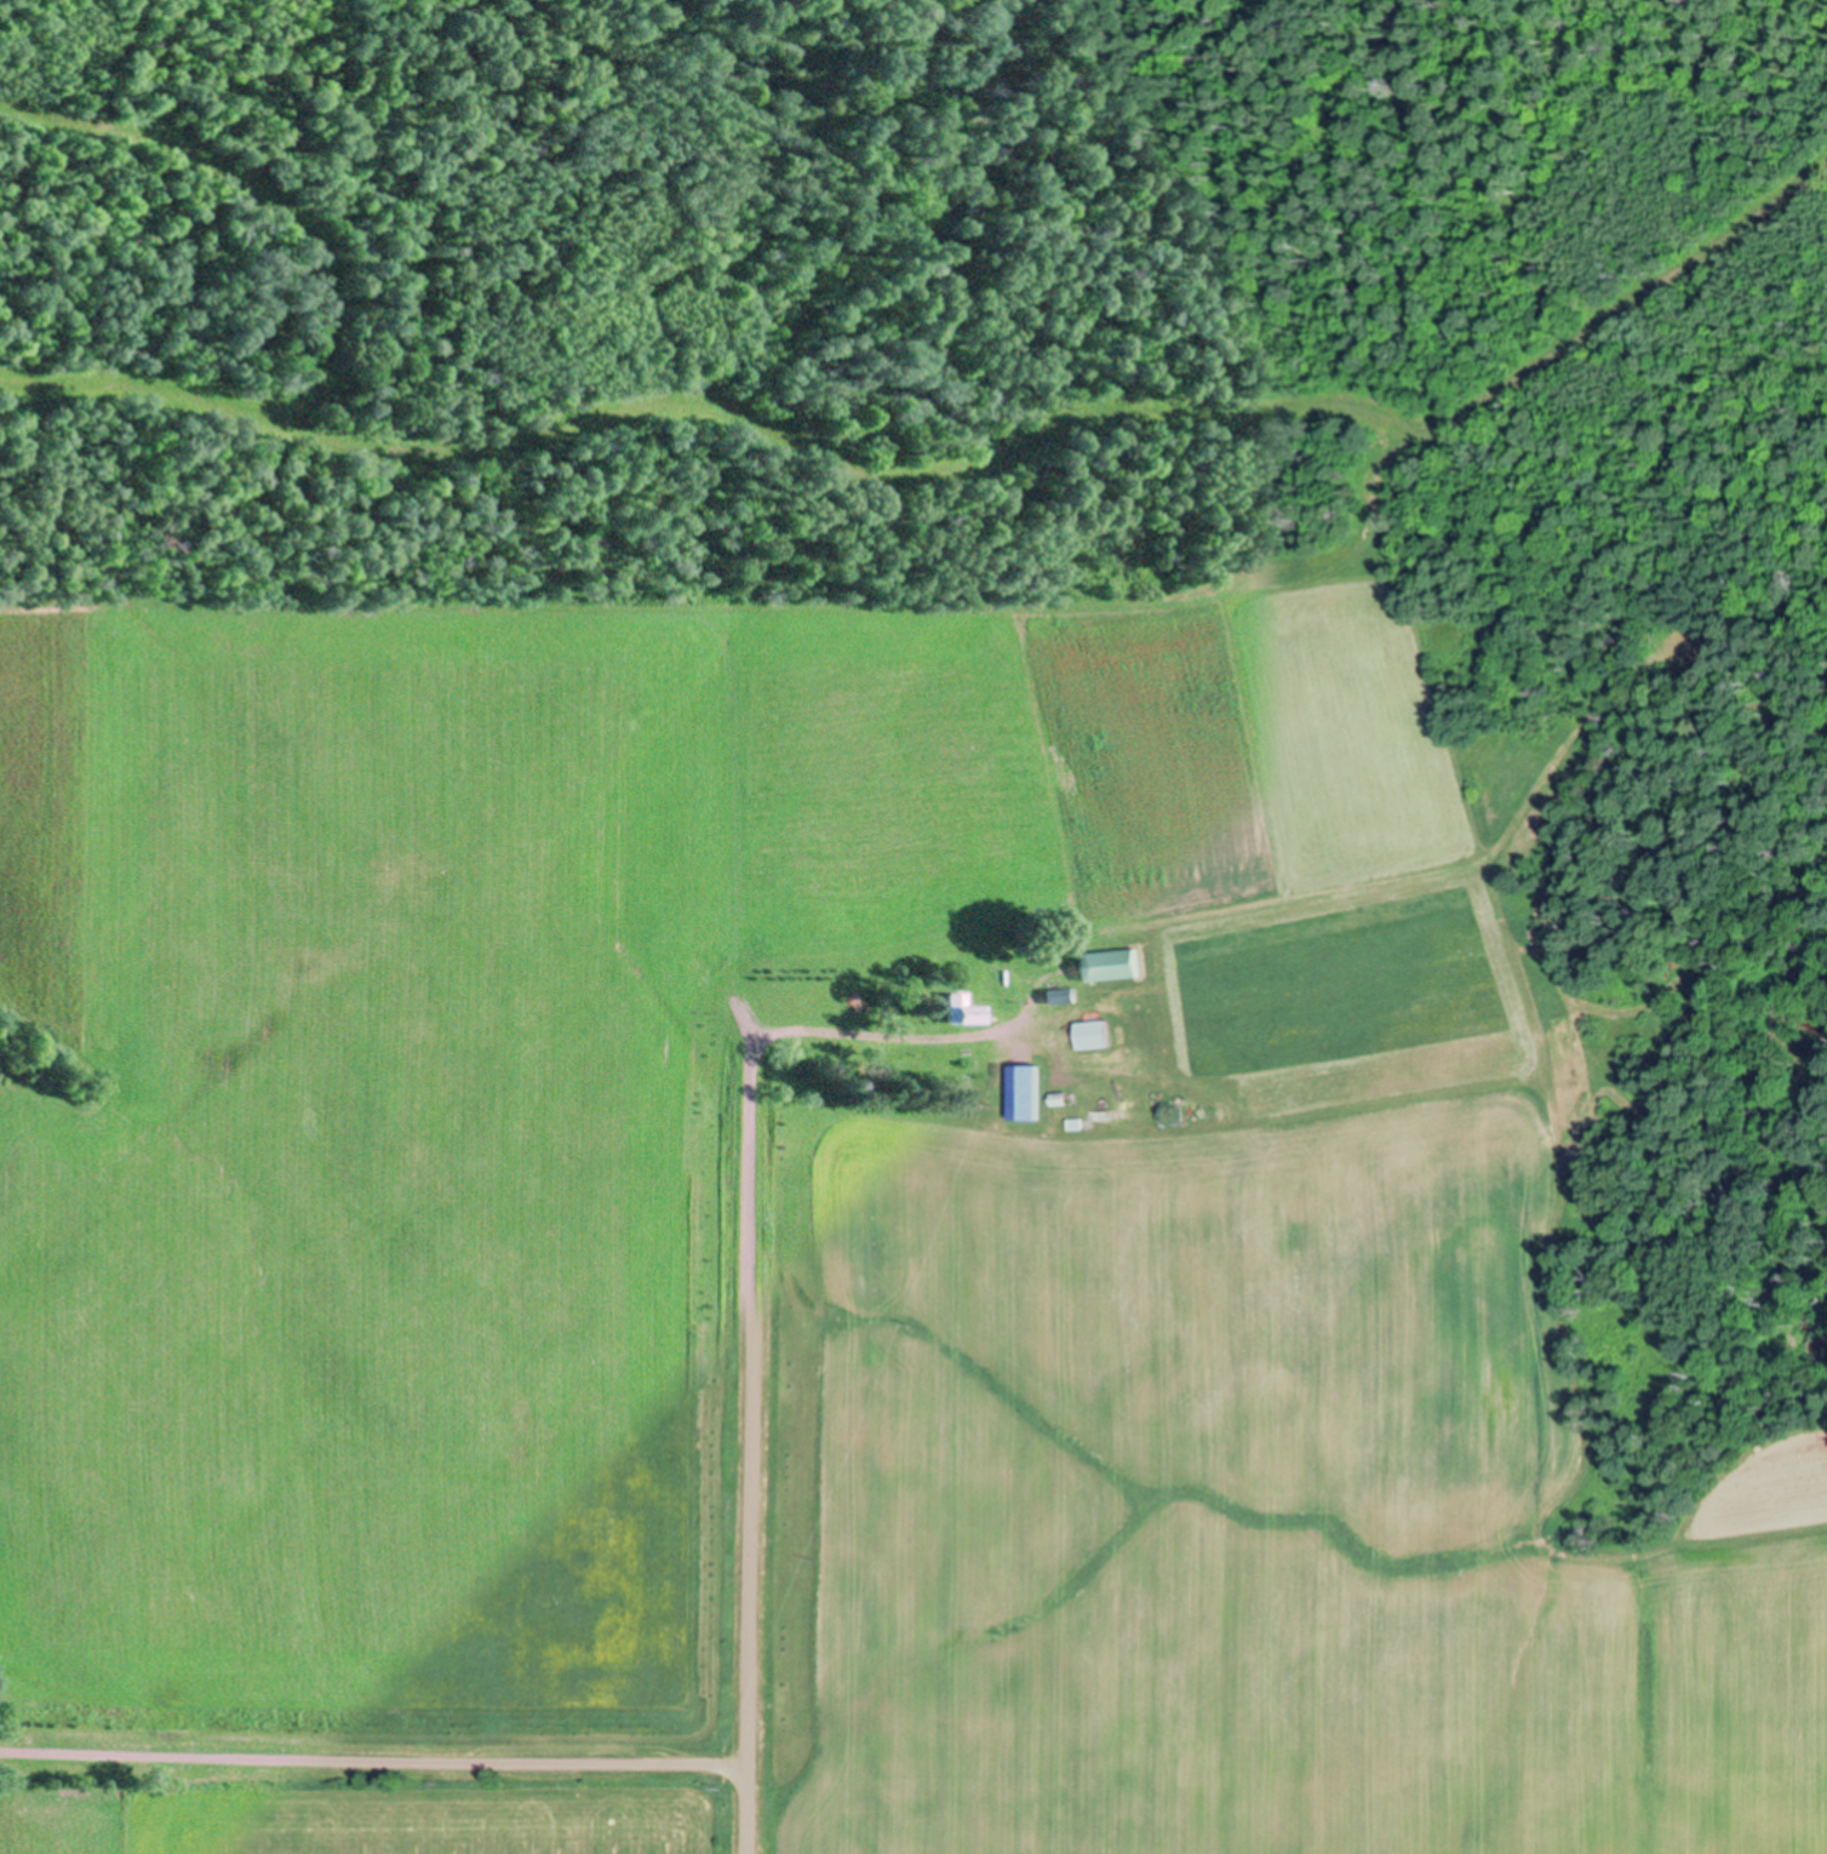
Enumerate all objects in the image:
building: (1107, 963)
building: (1007, 992)
building: (1058, 994)
building: (962, 1008)
building: (1088, 1032)
road: (881, 1040)
building: (1009, 1076)
crop: (516, 1083)
building: (1056, 1097)
building: (1073, 1122)
road: (745, 1452)
crop: (1236, 1510)
road: (372, 1764)

